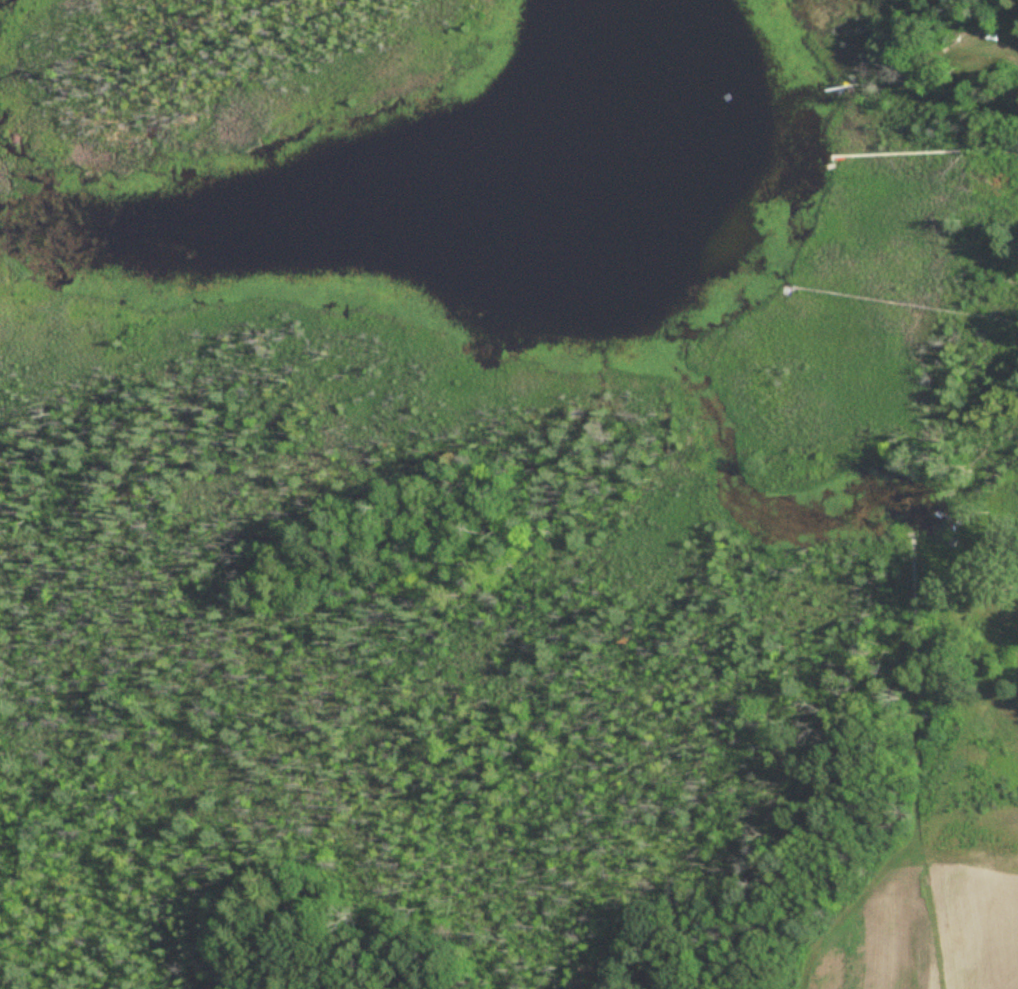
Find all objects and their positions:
pier: (944, 513)

